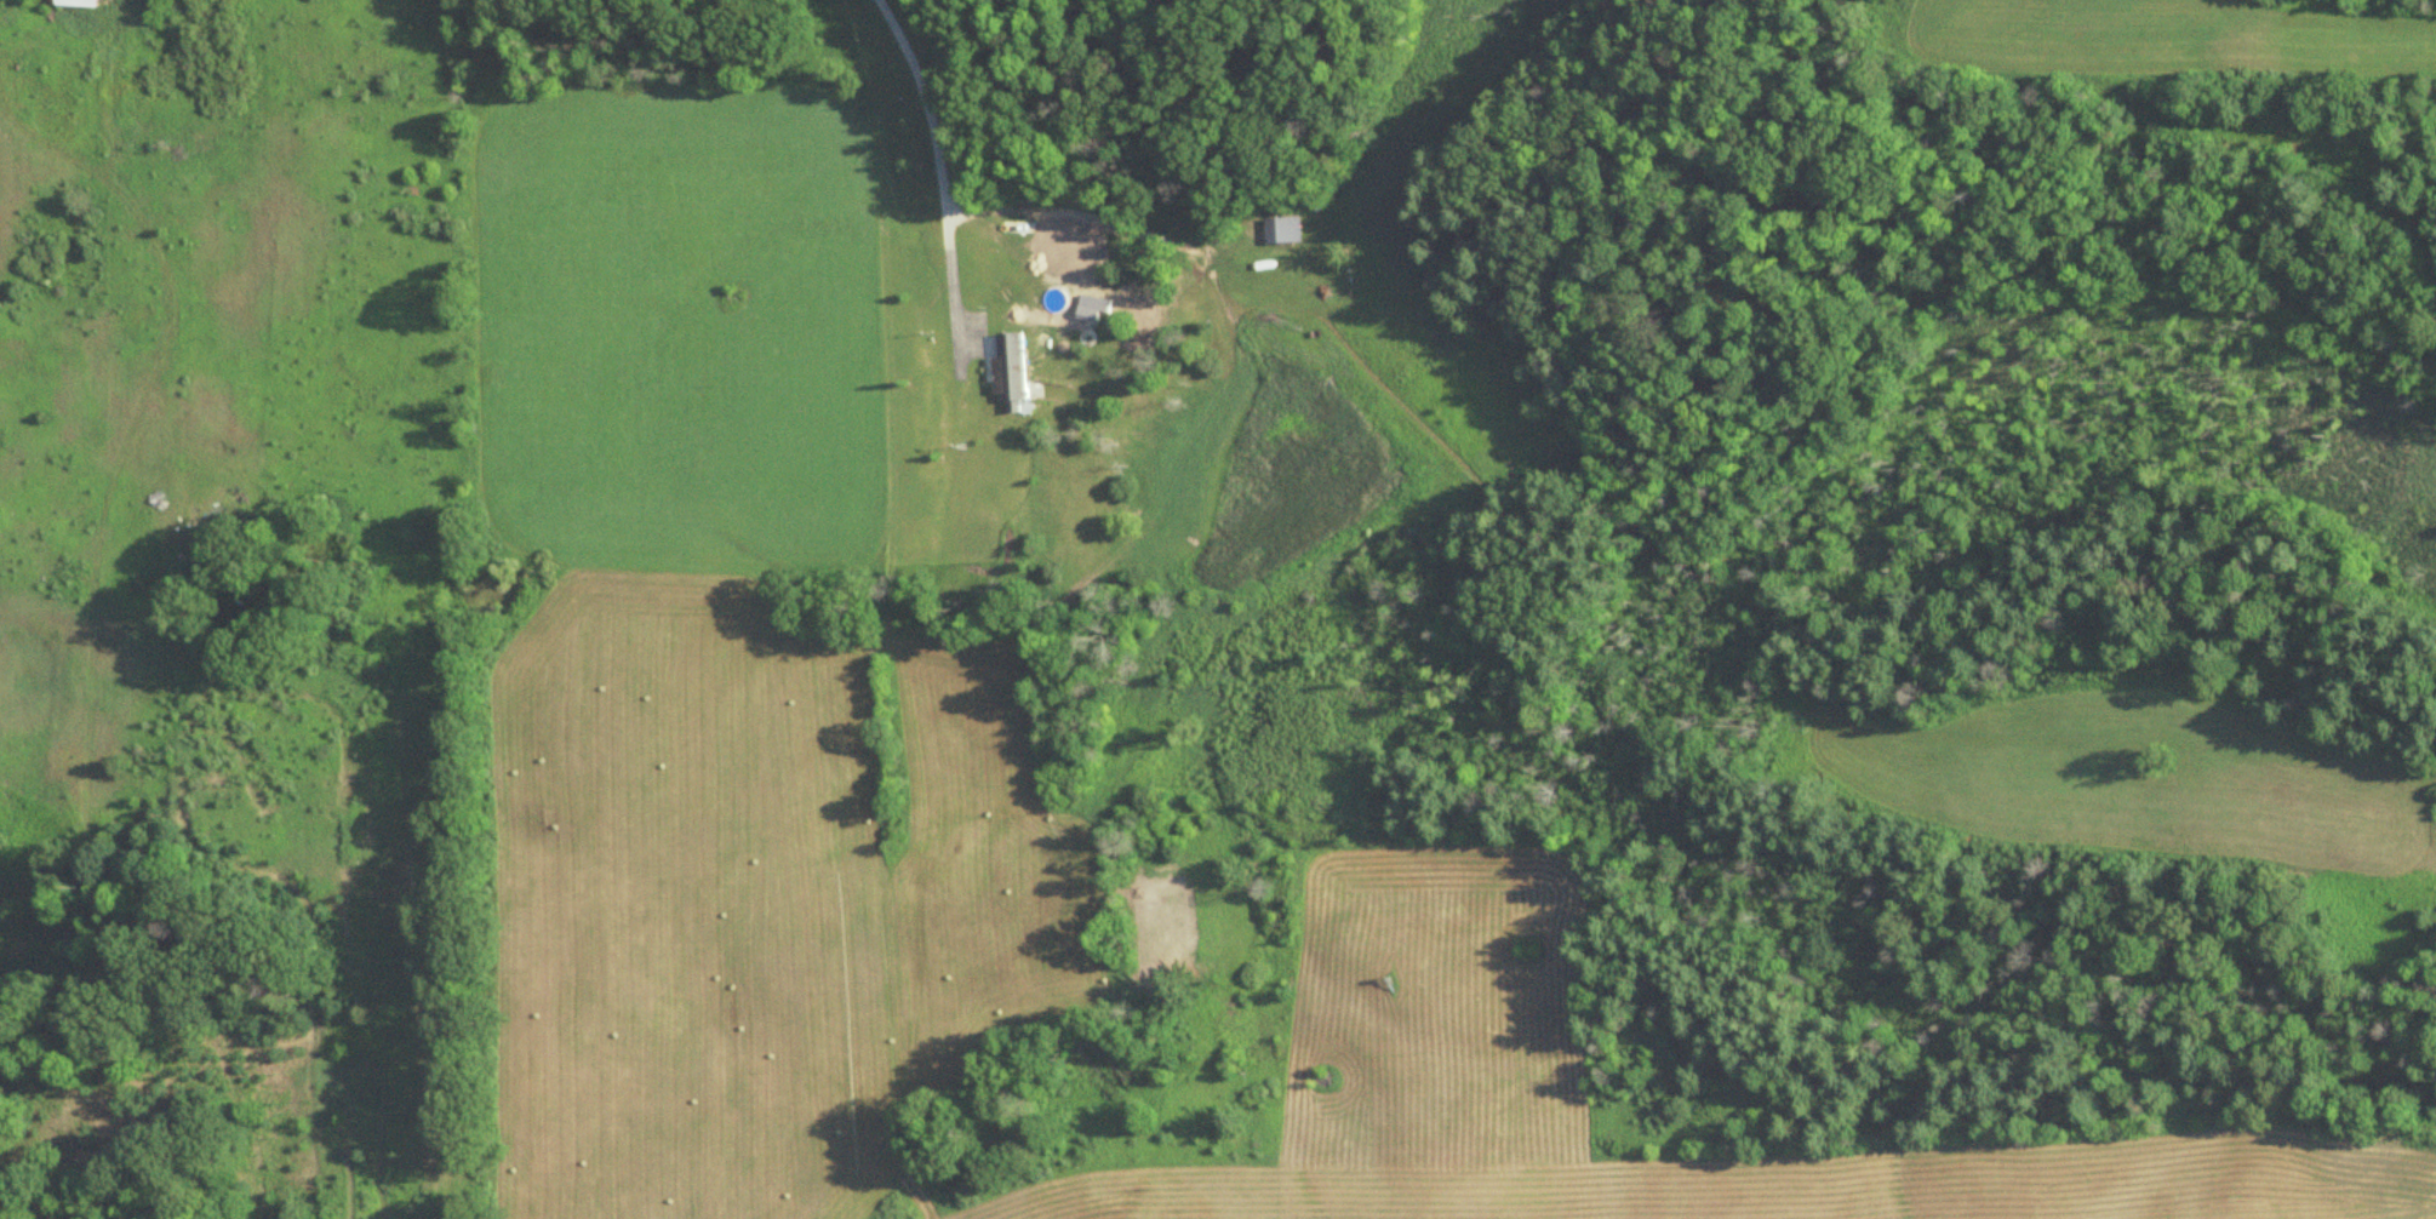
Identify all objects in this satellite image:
building: (84, 2)
building: (1283, 229)
building: (1097, 309)
building: (1014, 371)
crop: (943, 794)

